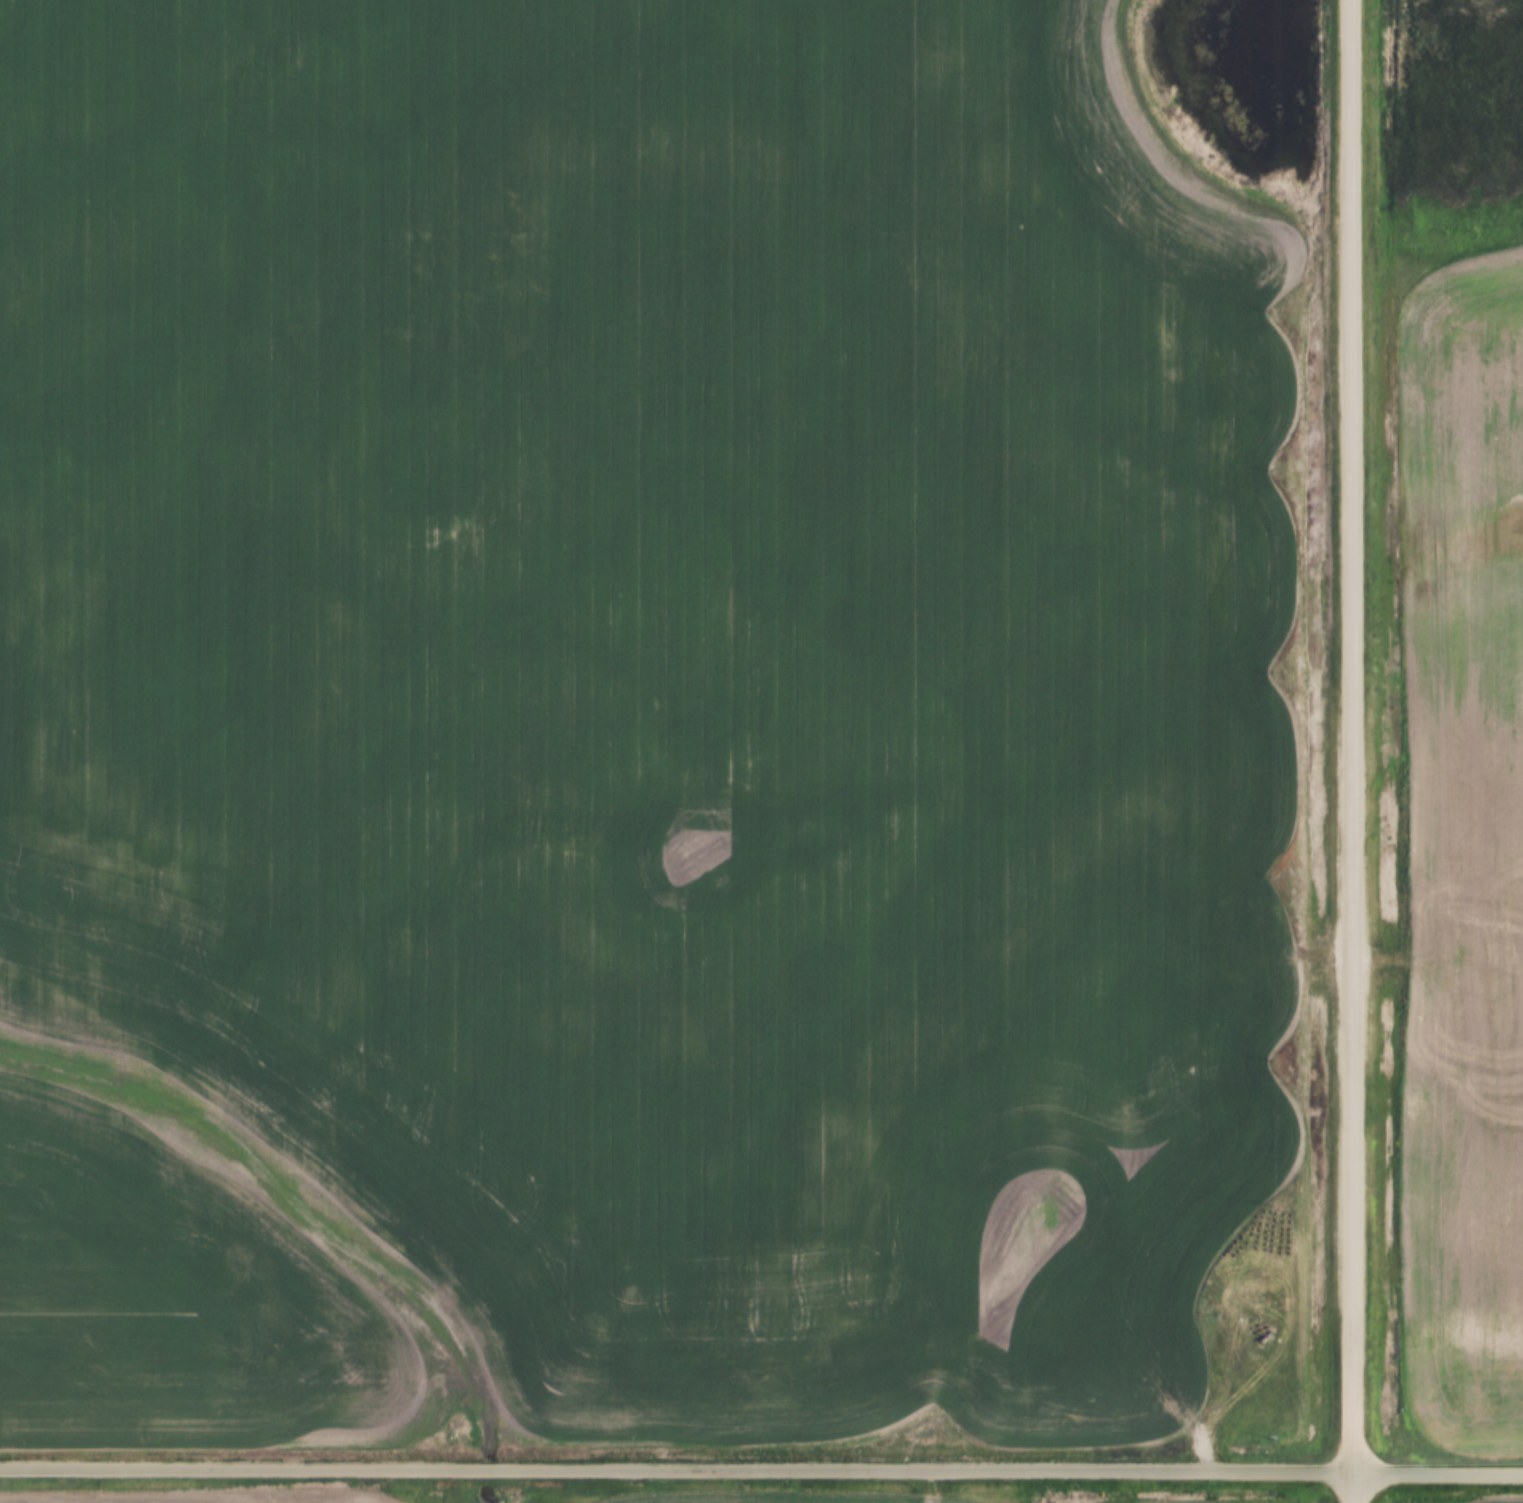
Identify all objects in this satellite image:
road: (1353, 751)
road: (761, 1471)

